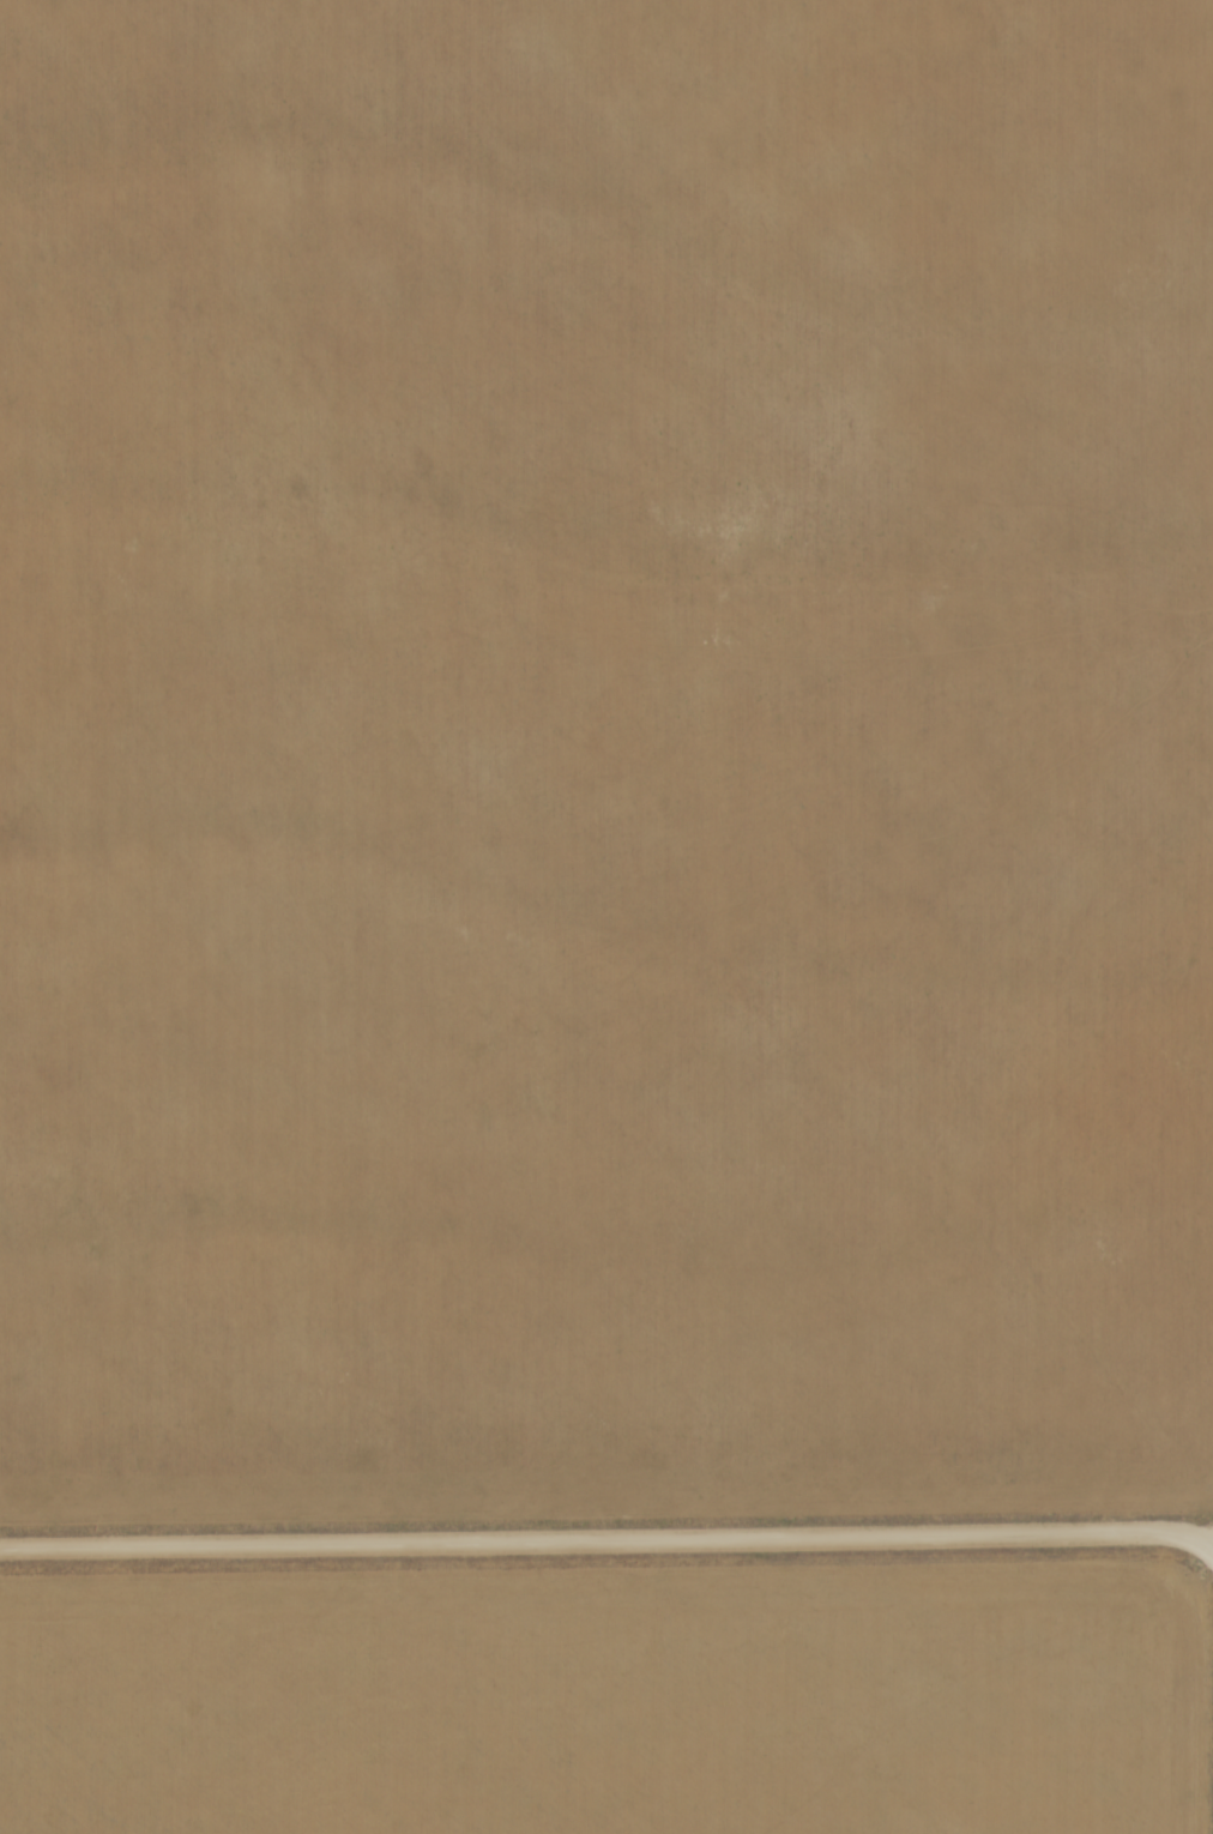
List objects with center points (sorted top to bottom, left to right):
road: (606, 1549)

